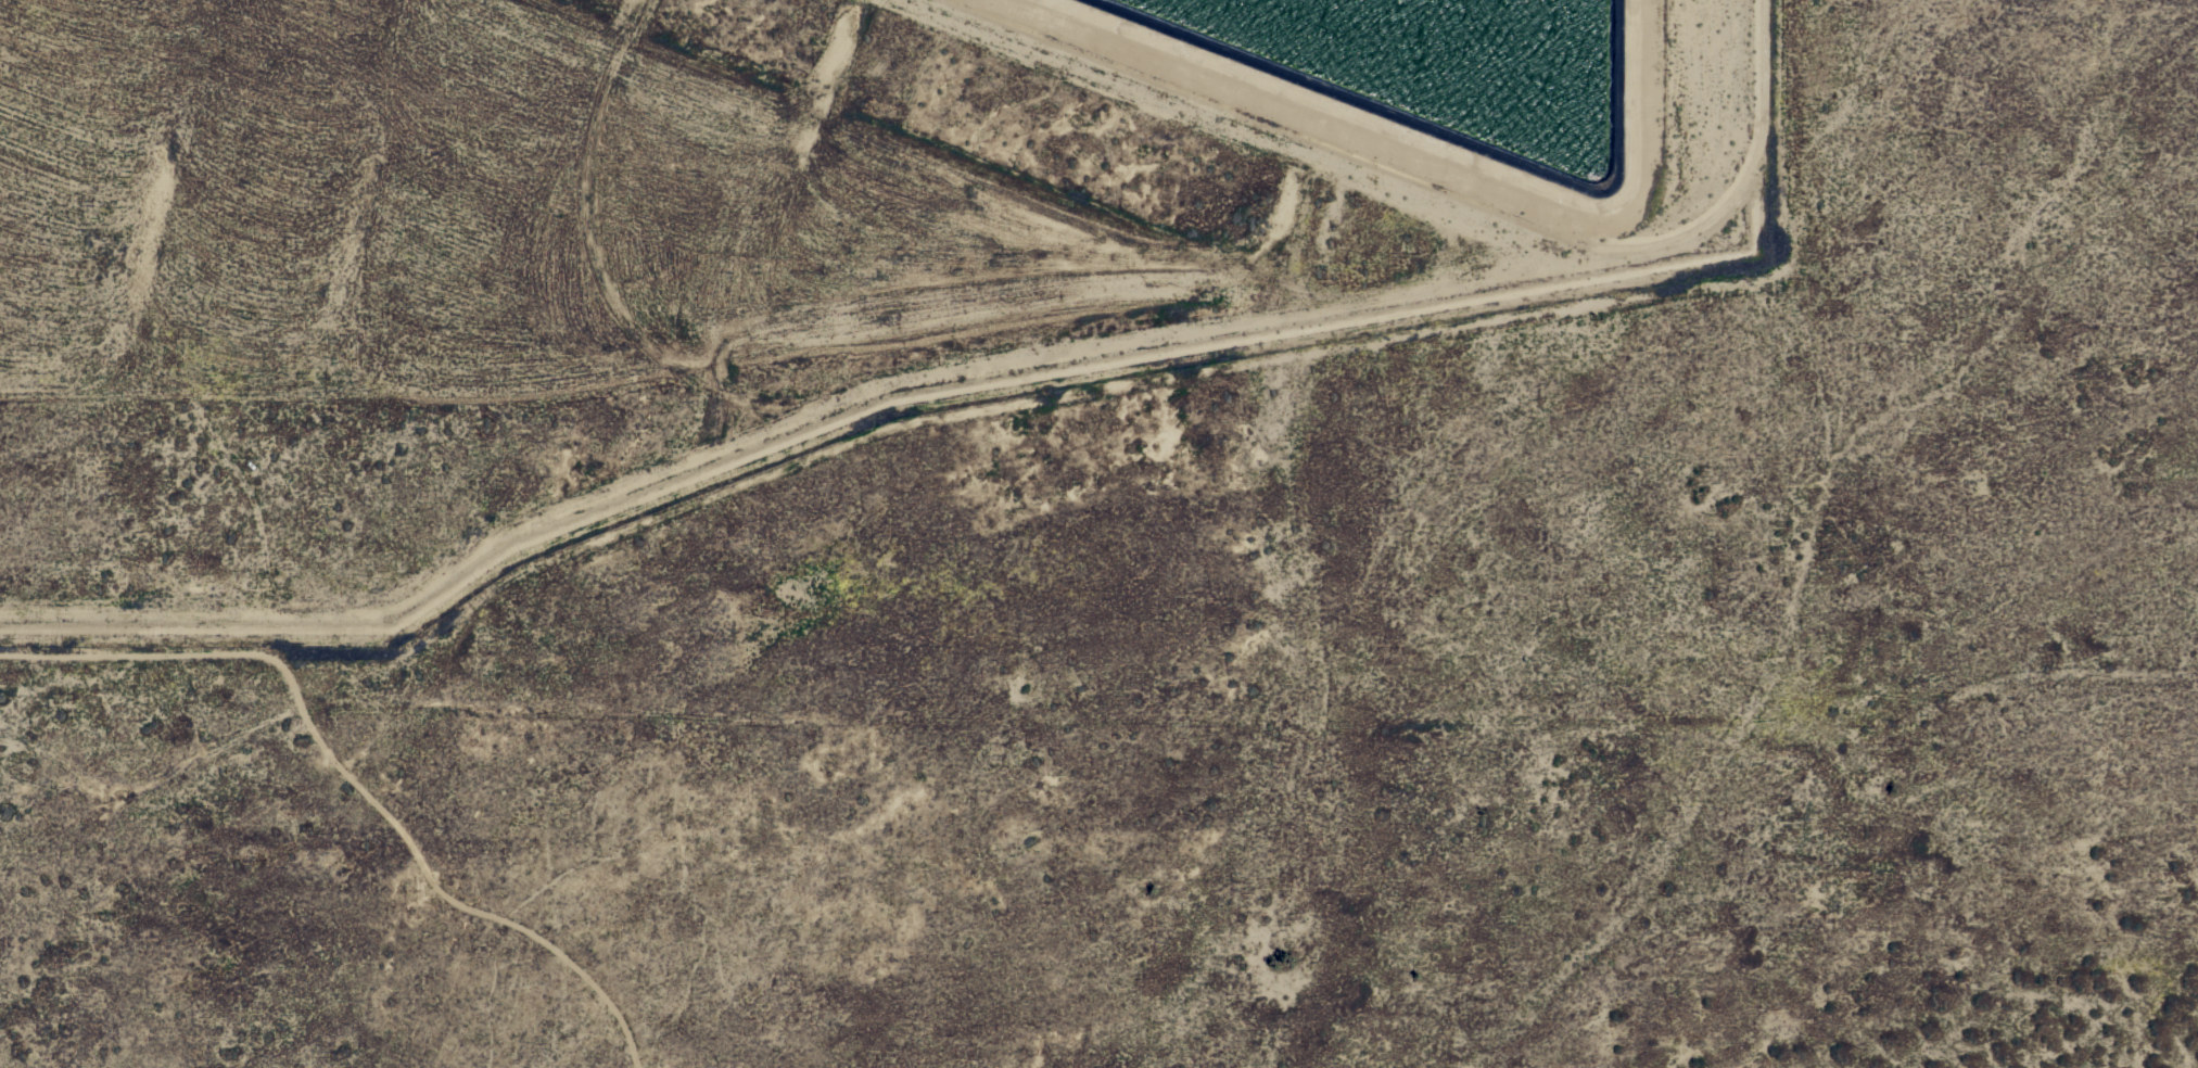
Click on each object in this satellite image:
wastewater plant: (1448, 79)
road: (179, 654)
road: (472, 911)

